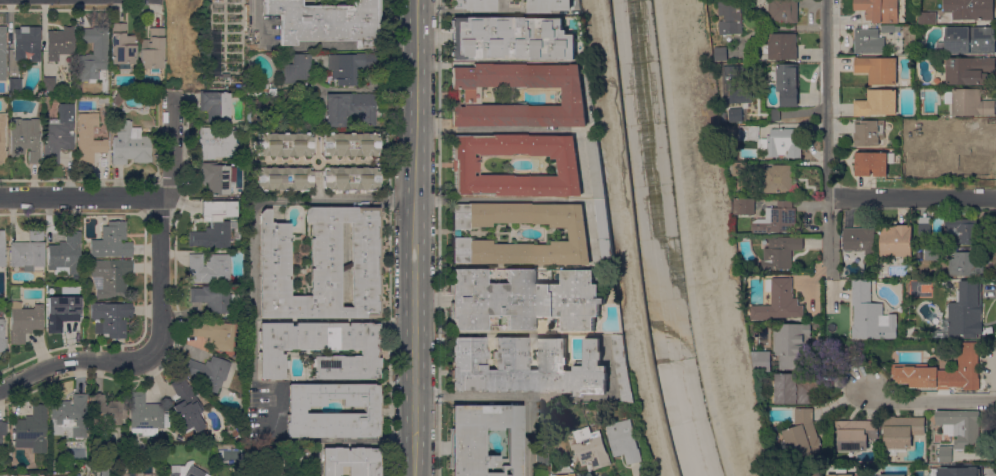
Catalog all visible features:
building: (473, 5)
building: (551, 5)
building: (879, 9)
building: (970, 9)
road: (470, 11)
building: (783, 11)
building: (730, 16)
building: (927, 17)
road: (257, 20)
building: (327, 22)
building: (890, 28)
building: (512, 38)
building: (968, 40)
building: (868, 41)
building: (60, 42)
building: (26, 43)
building: (122, 45)
building: (782, 46)
building: (152, 51)
building: (93, 52)
building: (3, 53)
building: (721, 53)
building: (297, 67)
building: (345, 68)
building: (878, 69)
building: (969, 69)
building: (734, 83)
building: (788, 83)
building: (49, 84)
building: (15, 85)
building: (575, 96)
road: (826, 97)
building: (105, 99)
building: (119, 99)
building: (970, 102)
building: (46, 103)
building: (877, 103)
building: (216, 106)
building: (350, 109)
building: (736, 114)
building: (775, 114)
building: (726, 119)
building: (932, 124)
road: (472, 131)
building: (868, 132)
building: (59, 133)
building: (89, 137)
building: (2, 139)
building: (25, 139)
building: (773, 140)
building: (217, 143)
building: (131, 145)
building: (284, 145)
building: (351, 145)
road: (172, 149)
building: (966, 150)
building: (871, 163)
building: (464, 165)
building: (597, 167)
building: (740, 168)
building: (217, 178)
building: (284, 178)
building: (779, 178)
building: (351, 179)
road: (911, 196)
road: (80, 198)
road: (498, 200)
road: (349, 201)
building: (744, 206)
building: (777, 218)
building: (216, 226)
road: (828, 227)
building: (924, 227)
building: (605, 229)
building: (963, 232)
building: (580, 234)
road: (414, 237)
road: (629, 239)
road: (686, 239)
building: (859, 239)
building: (897, 240)
building: (112, 242)
building: (756, 243)
road: (255, 246)
building: (2, 250)
building: (781, 252)
building: (932, 252)
building: (29, 253)
building: (925, 254)
building: (66, 256)
building: (967, 264)
building: (322, 265)
building: (209, 268)
building: (111, 277)
building: (948, 284)
building: (213, 298)
building: (523, 299)
building: (779, 300)
building: (62, 312)
building: (867, 313)
building: (964, 313)
building: (111, 318)
building: (24, 321)
building: (216, 334)
building: (2, 339)
building: (792, 343)
road: (254, 345)
building: (321, 348)
road: (149, 352)
building: (762, 360)
building: (592, 366)
building: (623, 368)
building: (954, 371)
building: (211, 372)
building: (915, 375)
building: (795, 387)
road: (509, 396)
road: (931, 399)
building: (187, 405)
building: (107, 412)
building: (296, 412)
building: (71, 416)
building: (147, 416)
building: (961, 426)
building: (3, 430)
building: (32, 430)
building: (901, 430)
building: (856, 433)
building: (802, 436)
building: (189, 438)
building: (182, 439)
building: (483, 439)
building: (625, 441)
building: (590, 449)
building: (945, 453)
building: (300, 454)
building: (227, 456)
building: (543, 459)
building: (350, 462)
building: (105, 470)
building: (186, 470)
building: (960, 472)
building: (35, 474)
building: (42, 474)
building: (4, 475)
building: (57, 475)
building: (138, 475)
building: (562, 475)
building: (843, 475)
building: (892, 475)

